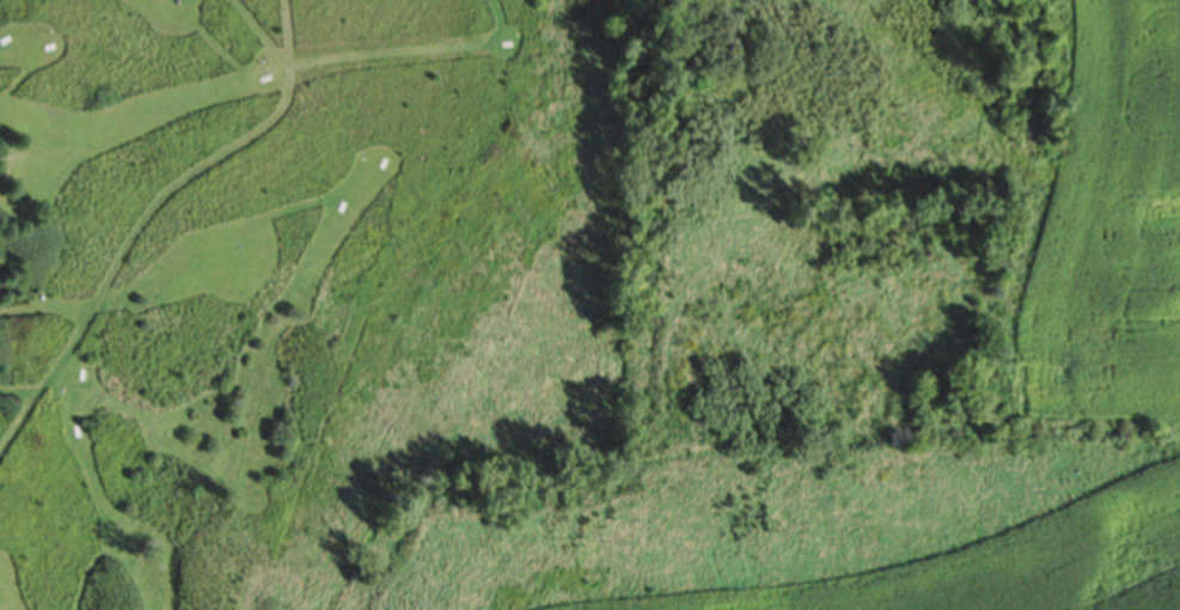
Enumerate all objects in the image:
road: (147, 219)
park: (301, 295)

